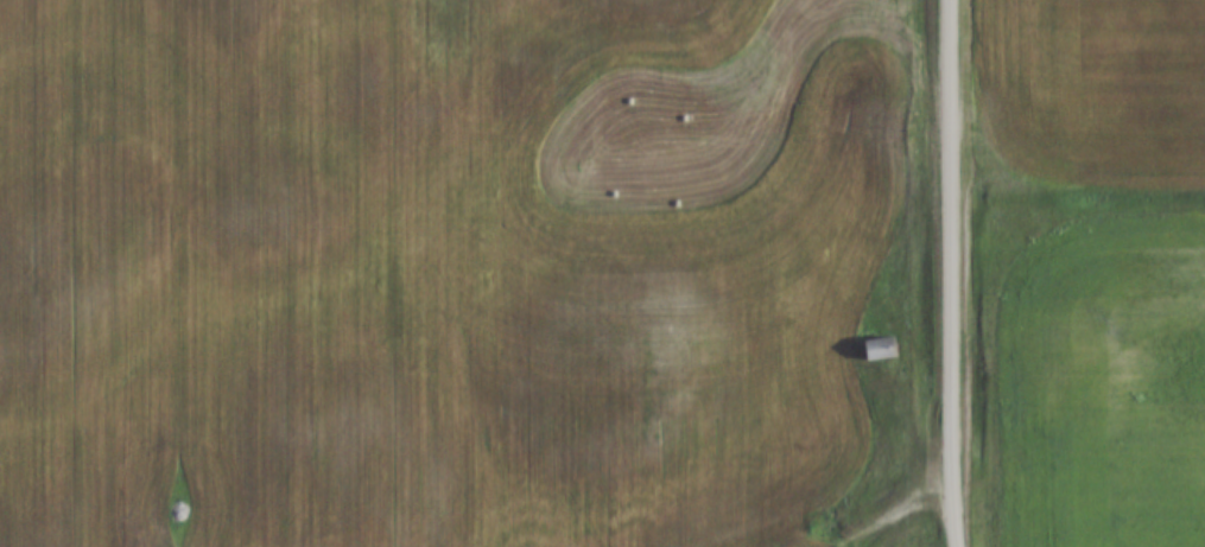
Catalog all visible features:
road: (946, 273)
building: (881, 349)
road: (883, 515)

